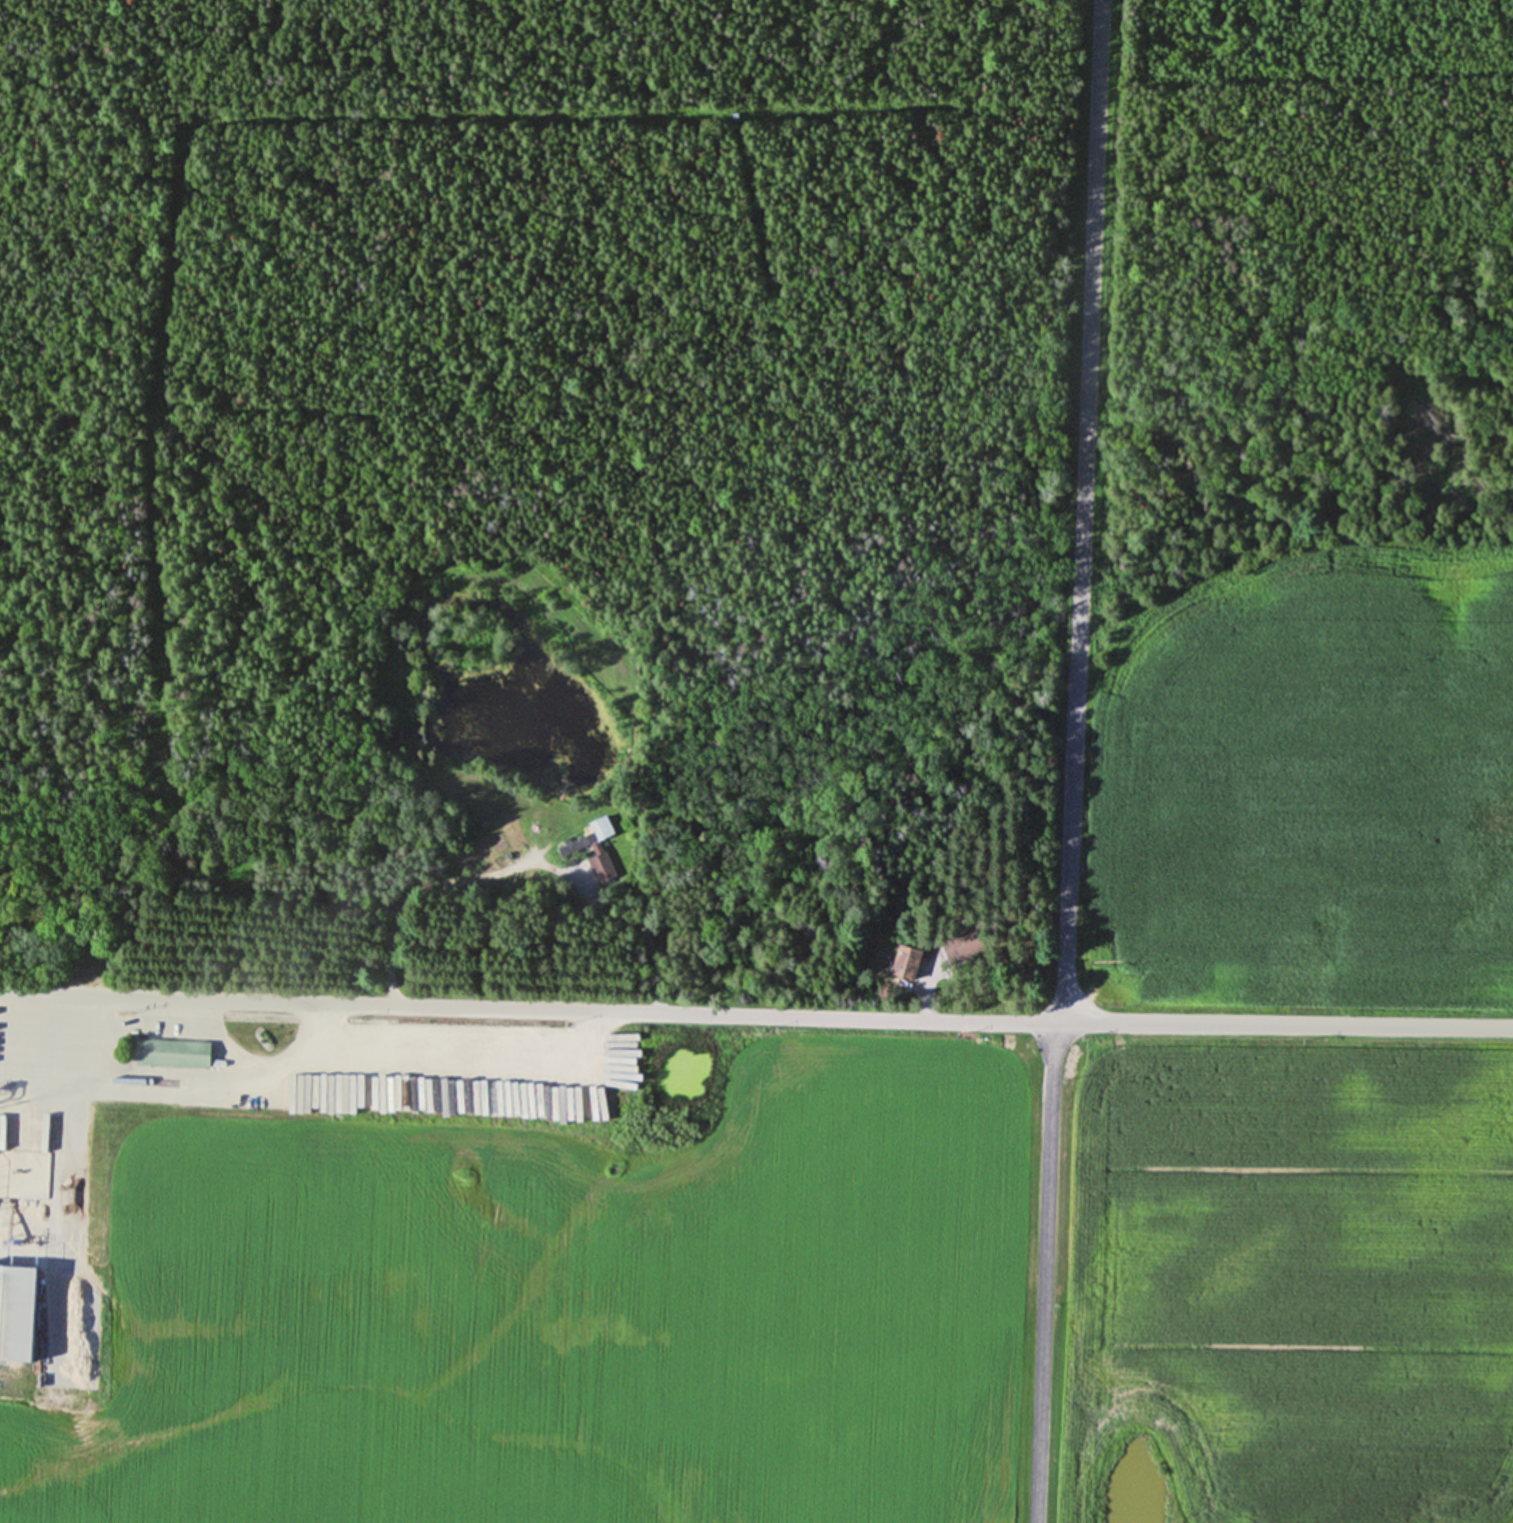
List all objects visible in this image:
road: (1083, 504)
building: (590, 847)
road: (411, 893)
building: (904, 961)
road: (758, 1015)
building: (170, 1052)
building: (29, 1171)
road: (1045, 1270)

